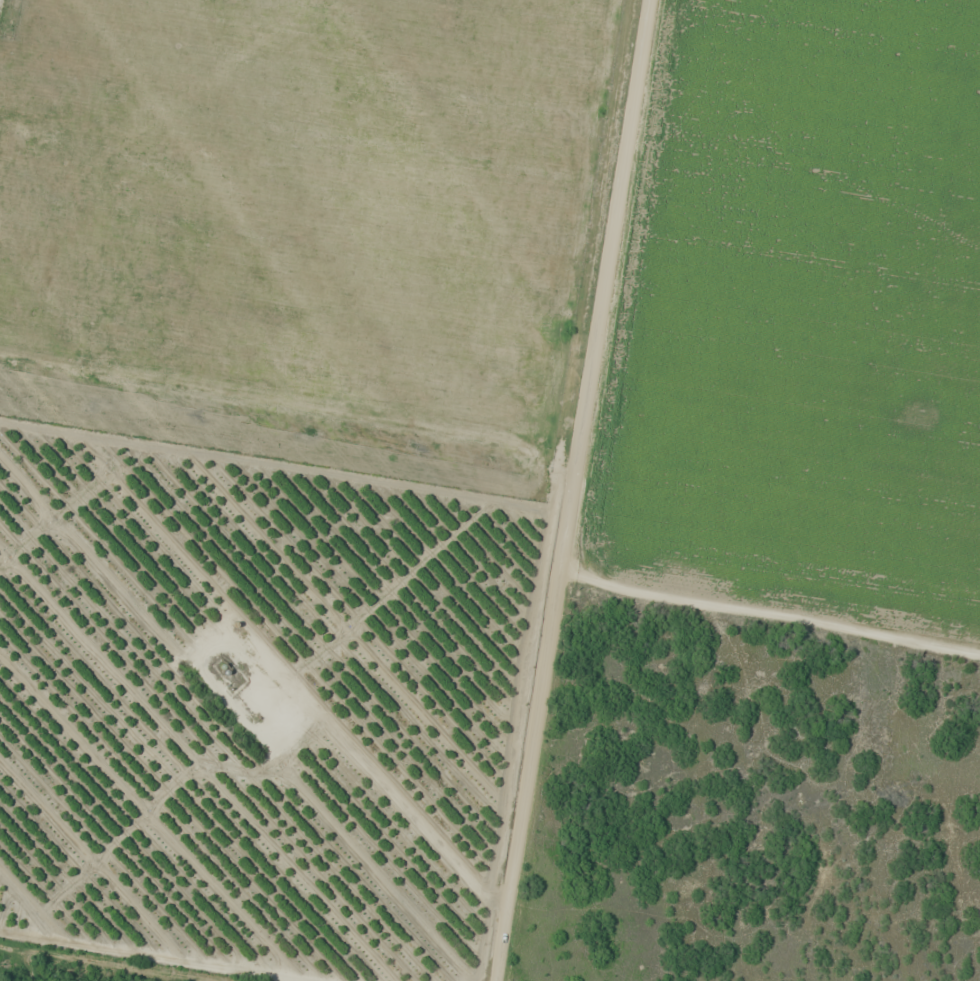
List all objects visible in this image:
road: (570, 490)

